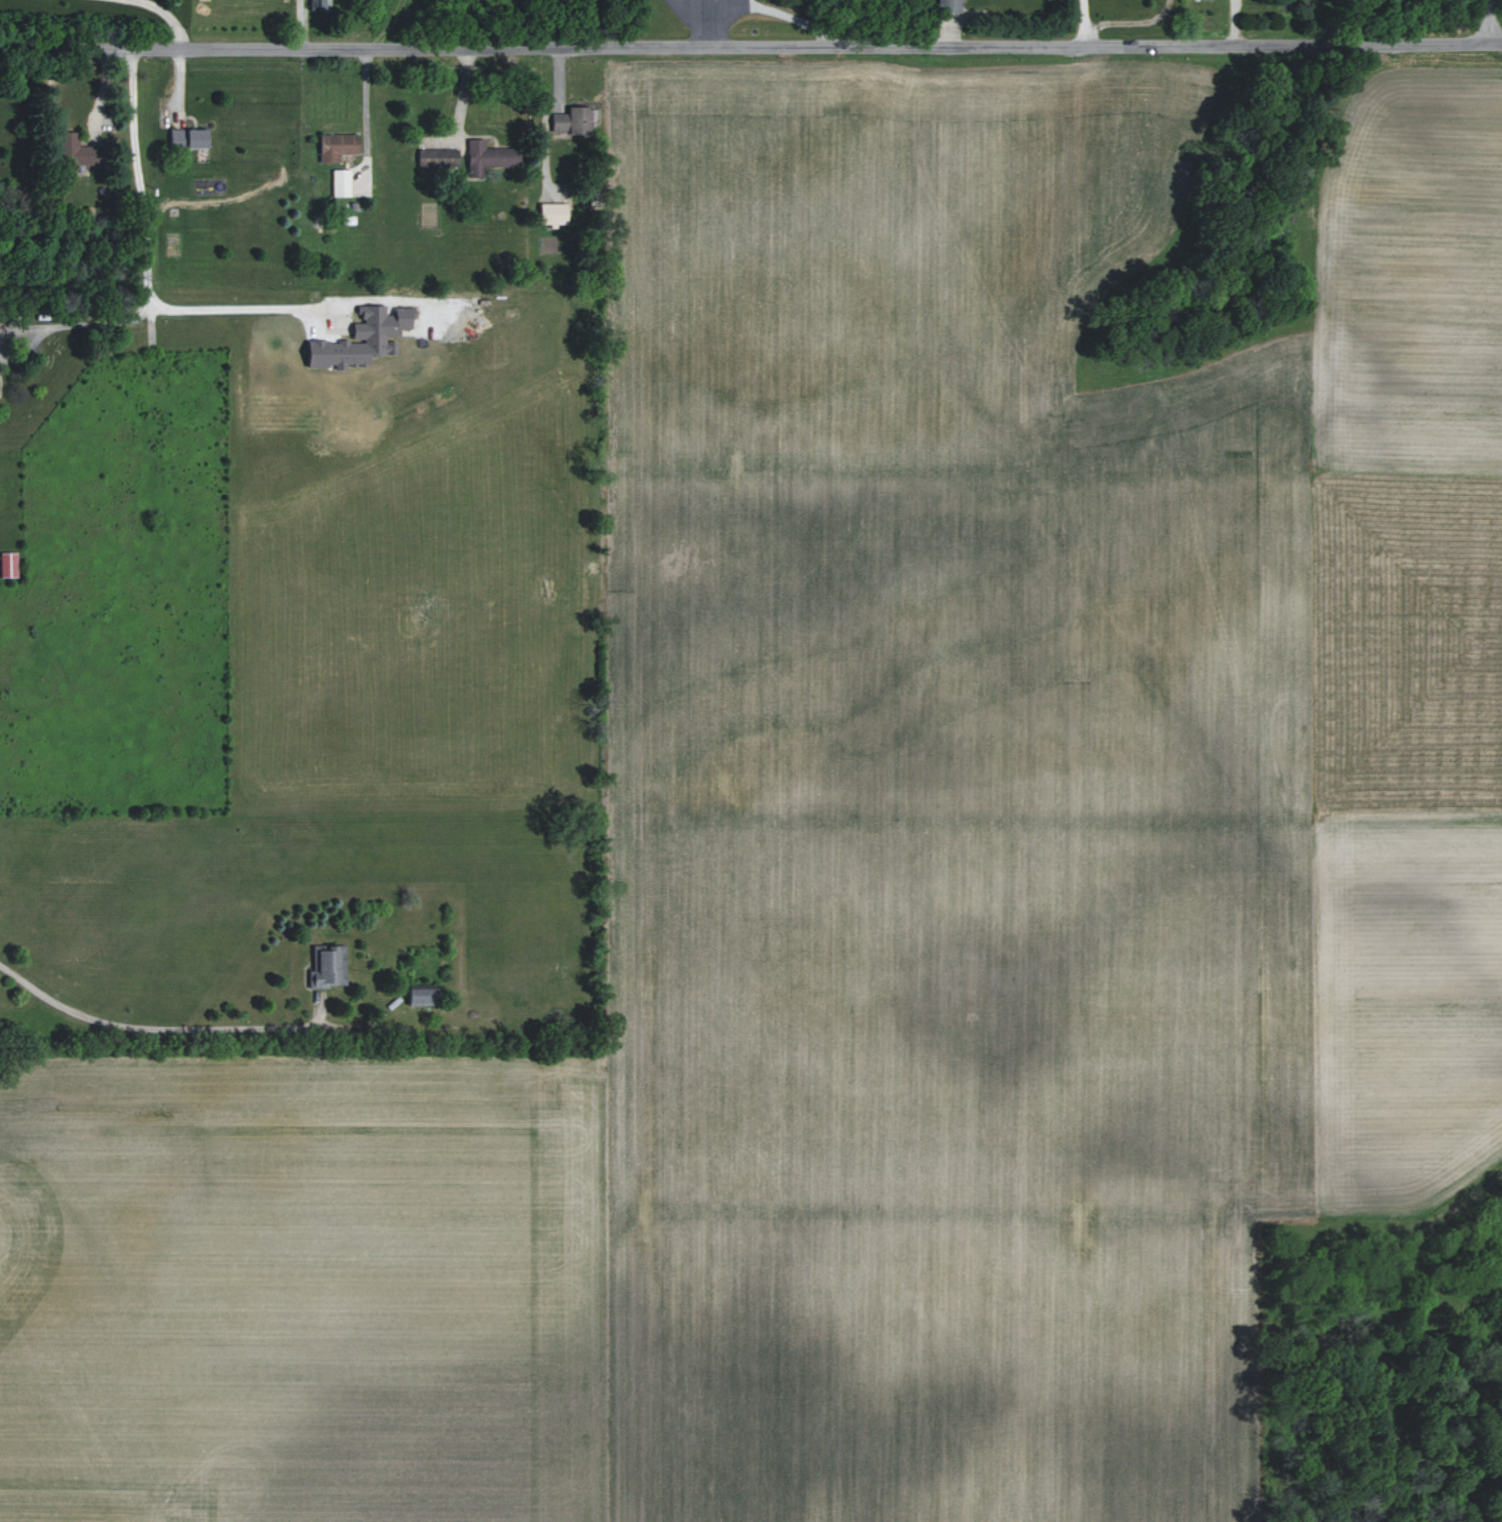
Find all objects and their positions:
building: (317, 5)
road: (170, 17)
road: (1491, 22)
road: (1081, 24)
road: (751, 48)
road: (368, 114)
building: (573, 120)
building: (188, 137)
building: (68, 141)
building: (338, 146)
building: (438, 158)
building: (341, 182)
road: (149, 268)
road: (81, 323)
building: (362, 339)
building: (8, 564)
building: (329, 966)
building: (422, 994)
road: (144, 1027)

